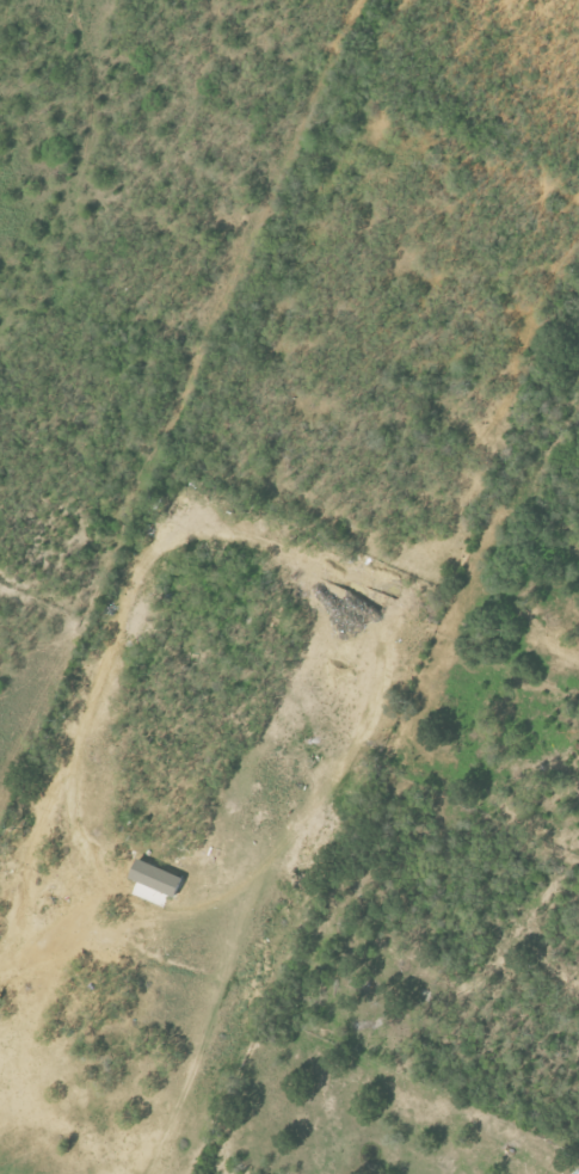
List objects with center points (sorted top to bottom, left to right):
building: (158, 878)
building: (149, 893)

